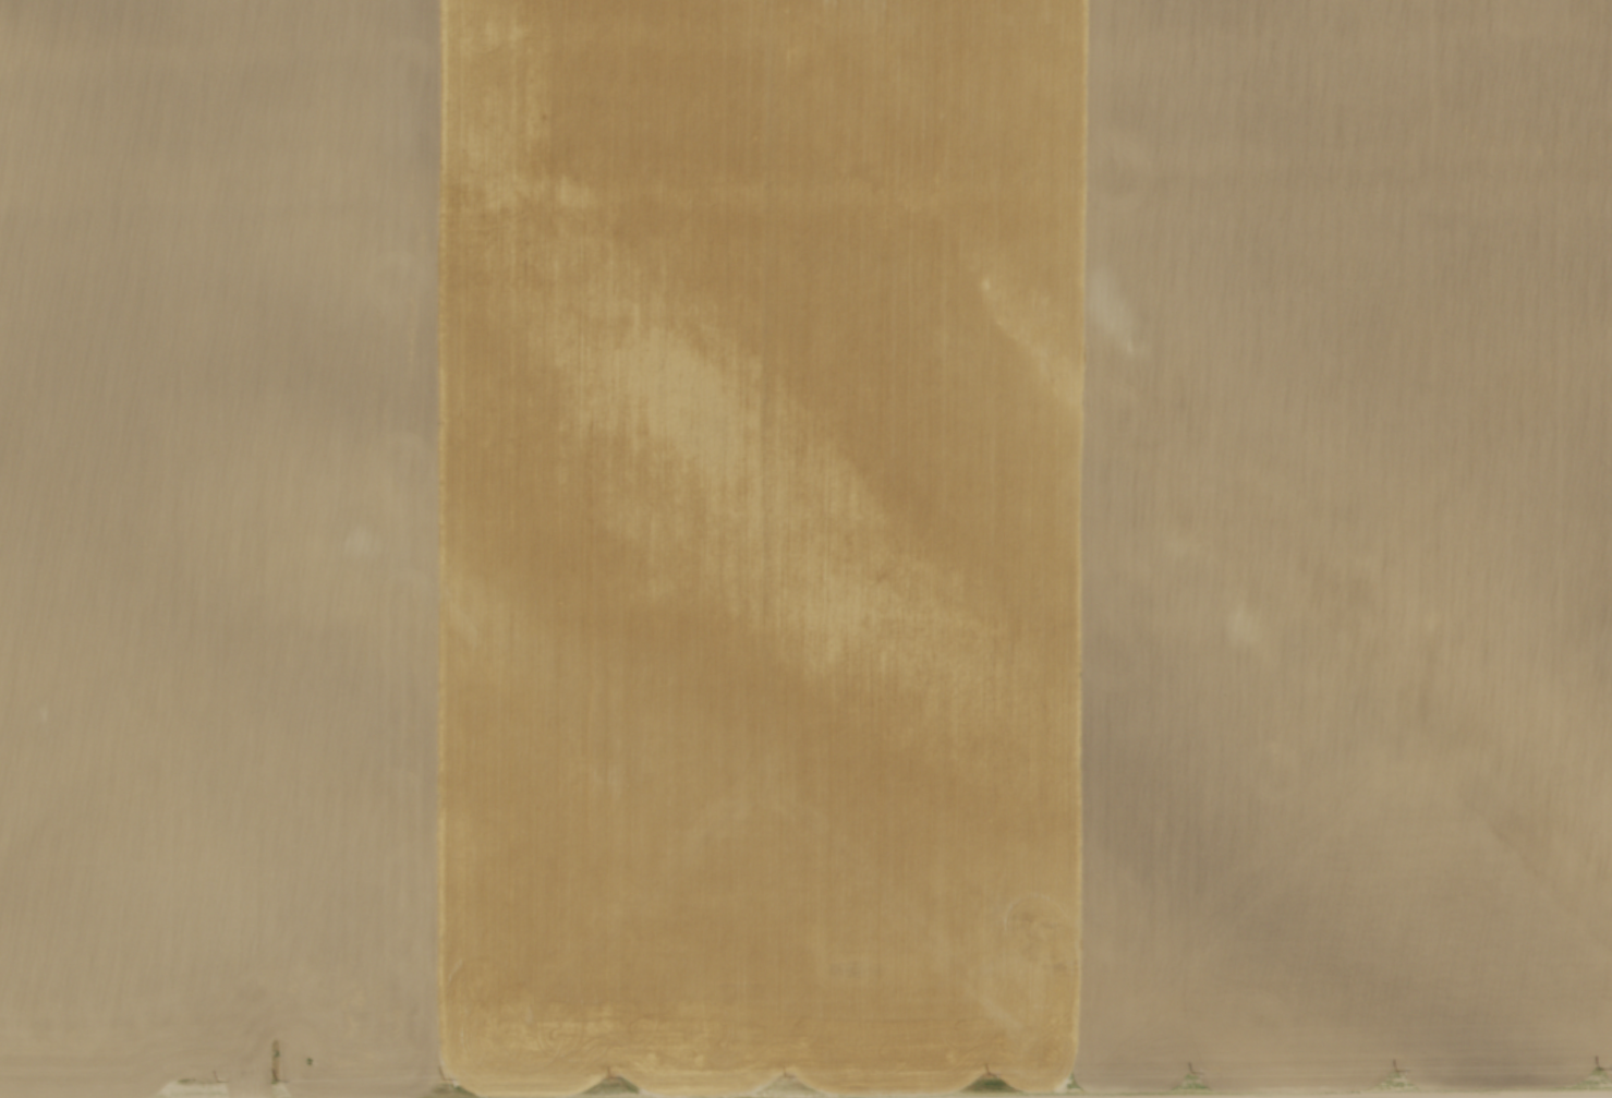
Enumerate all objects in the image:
crop: (803, 543)

